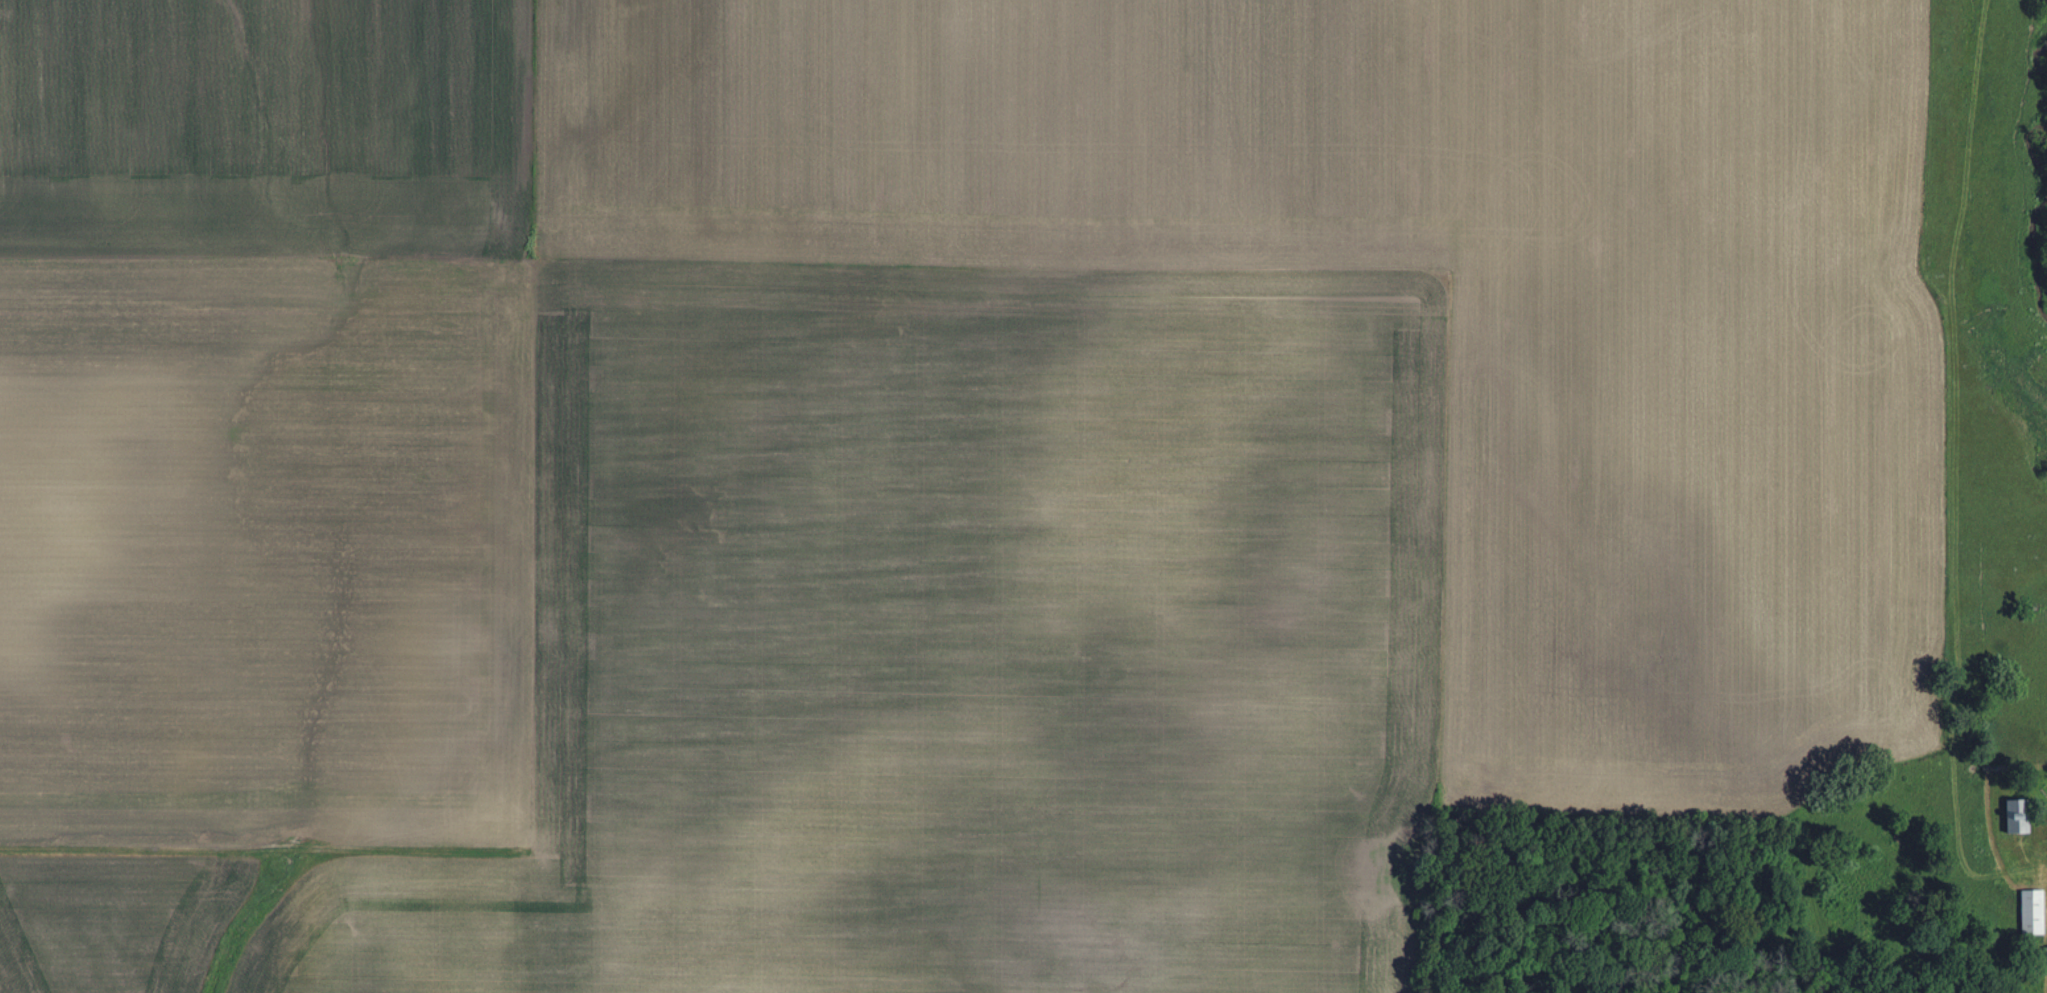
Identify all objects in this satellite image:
building: (2015, 818)
building: (2031, 914)

